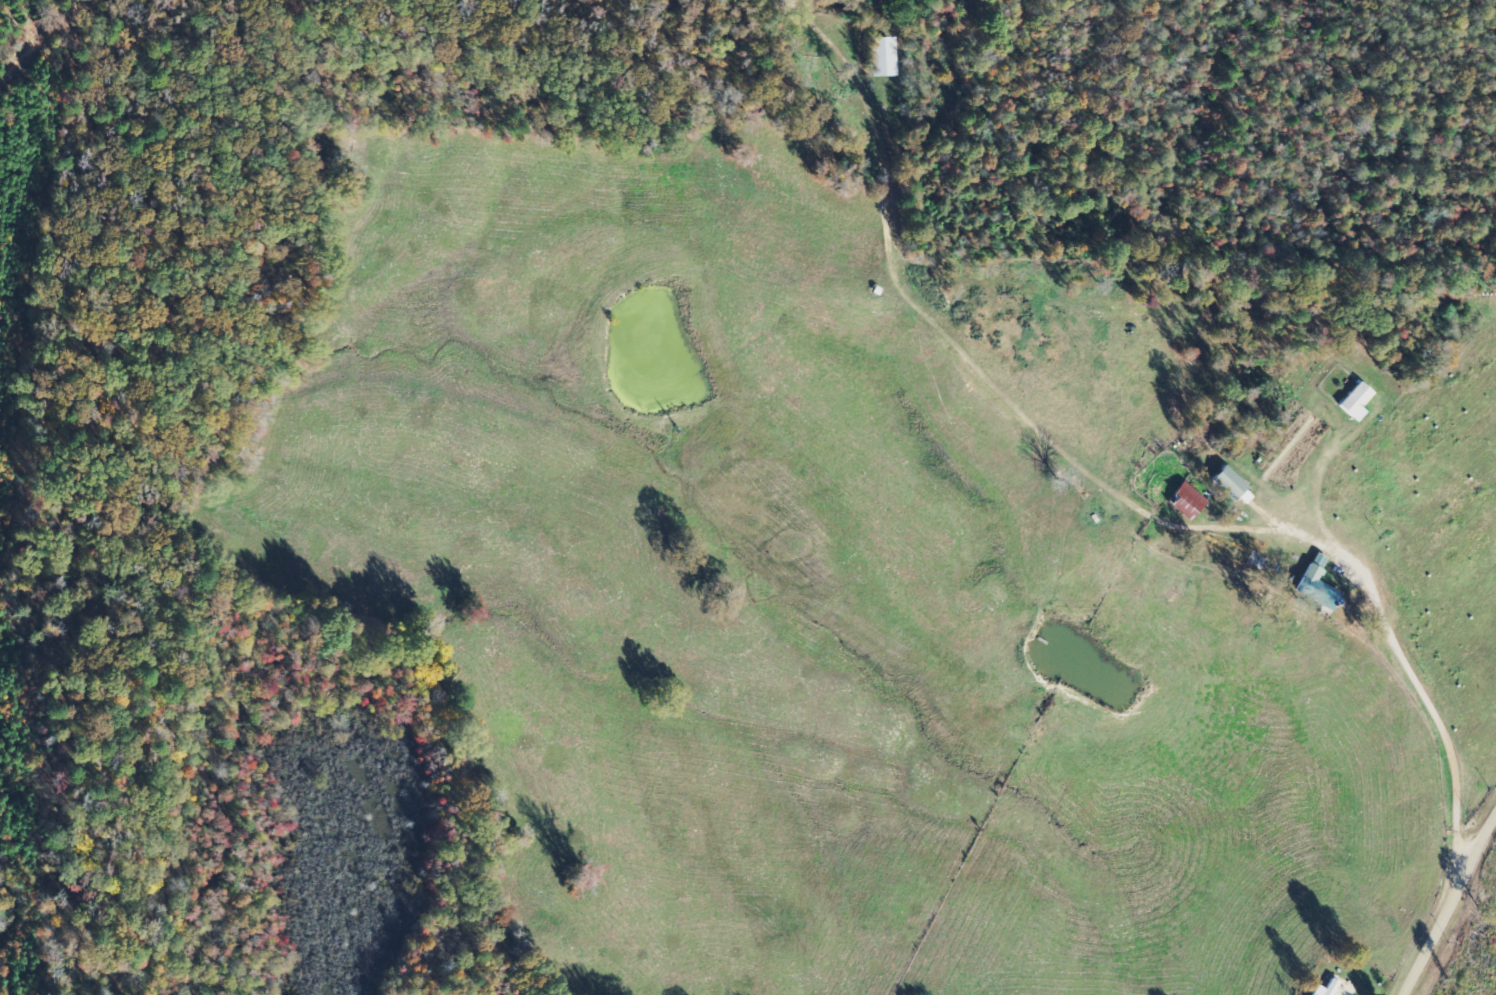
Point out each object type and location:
road: (1408, 578)
road: (1489, 983)

